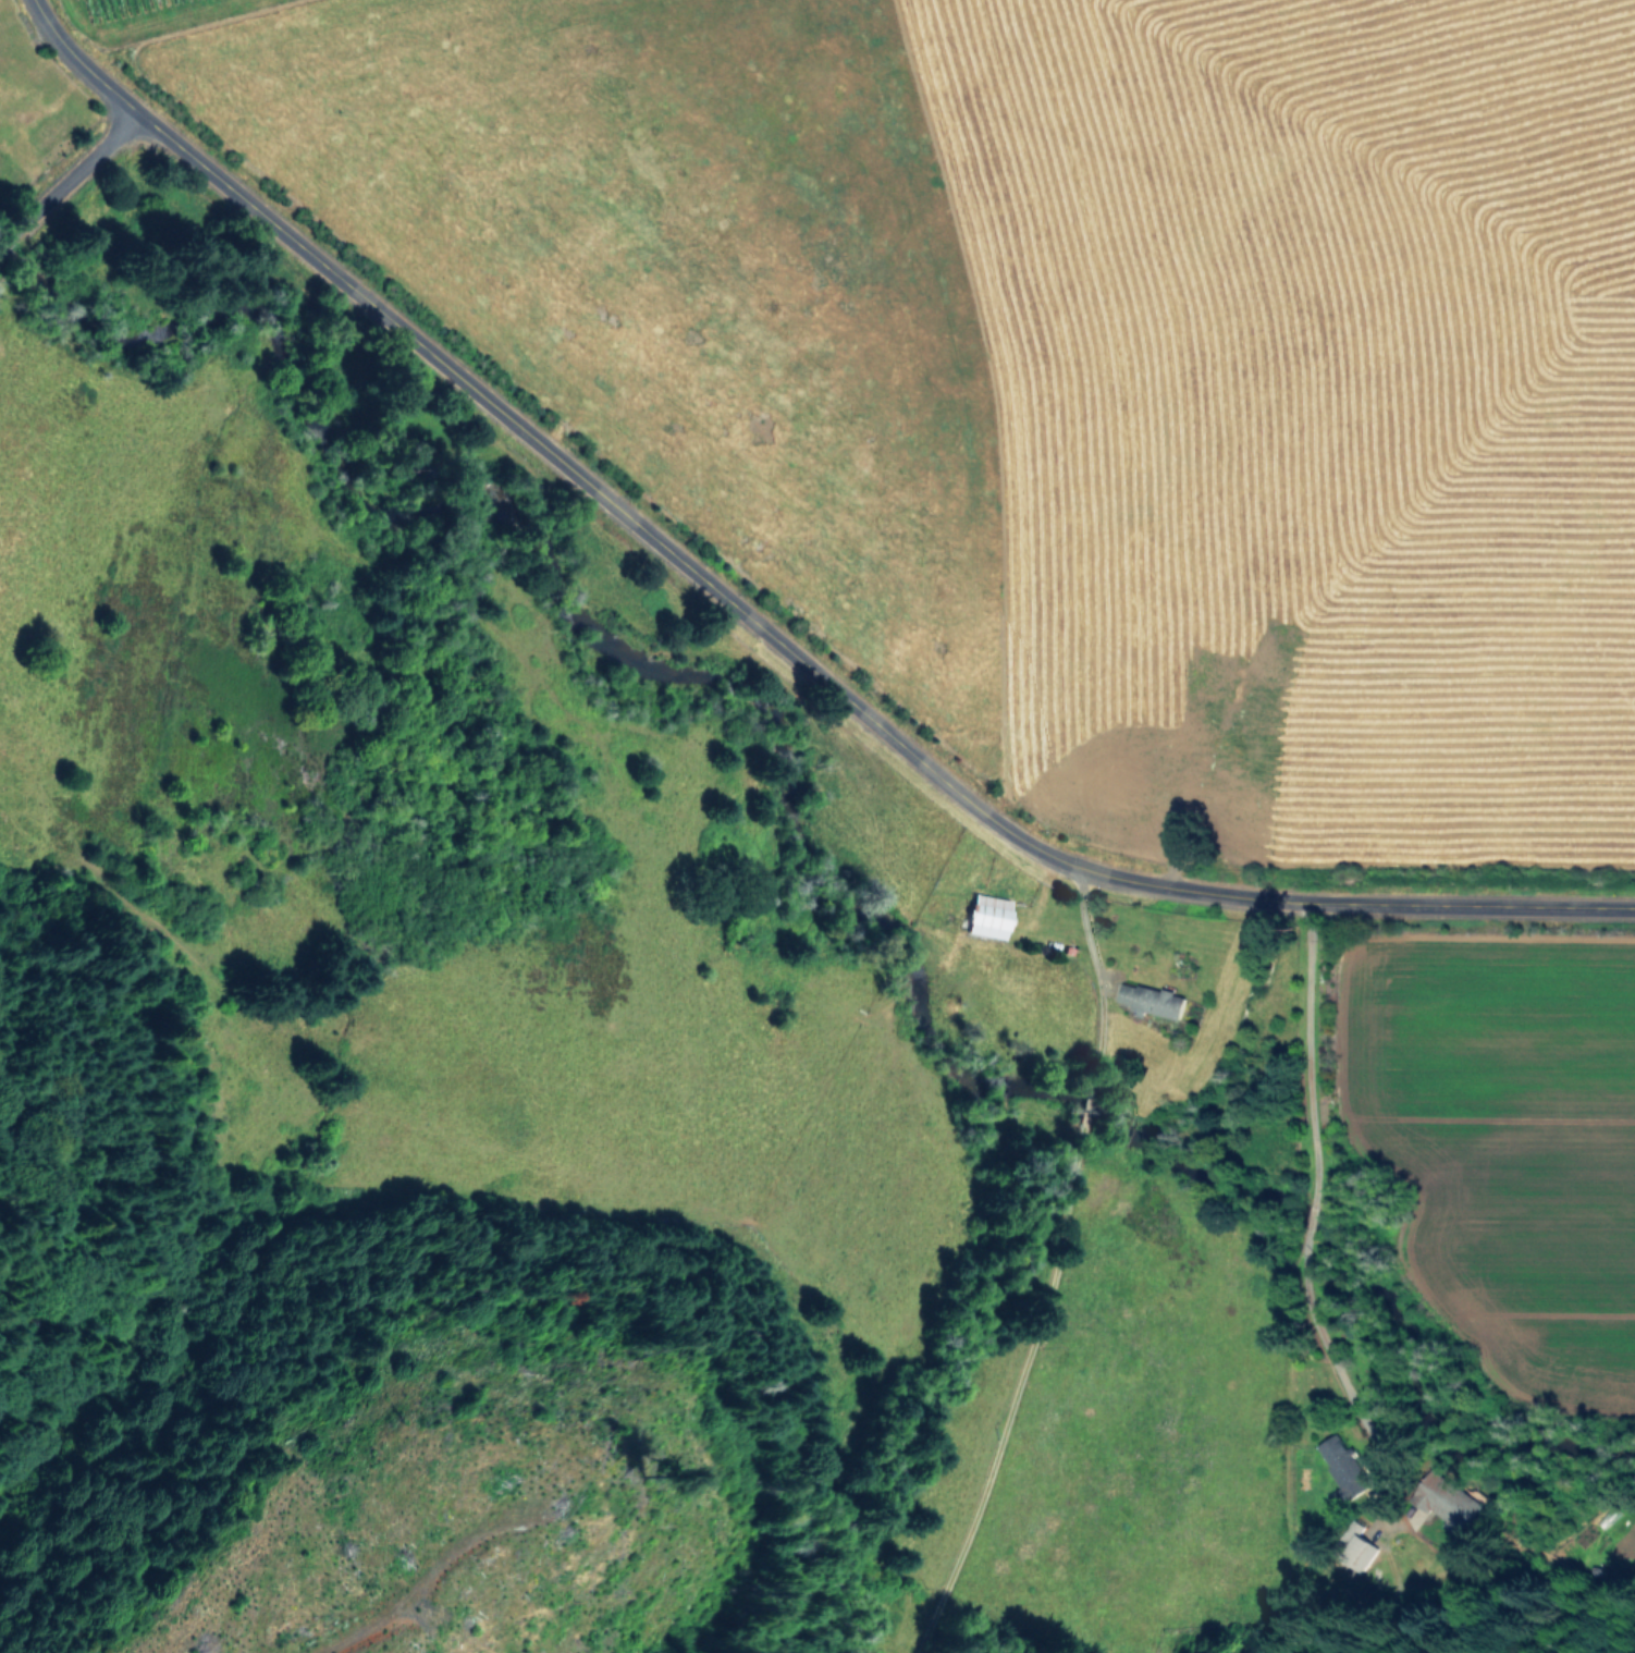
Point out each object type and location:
road: (69, 175)
road: (753, 627)
crop: (882, 712)
building: (1151, 999)
road: (1300, 1178)
road: (1041, 1264)
building: (1342, 1468)
building: (1462, 1511)

